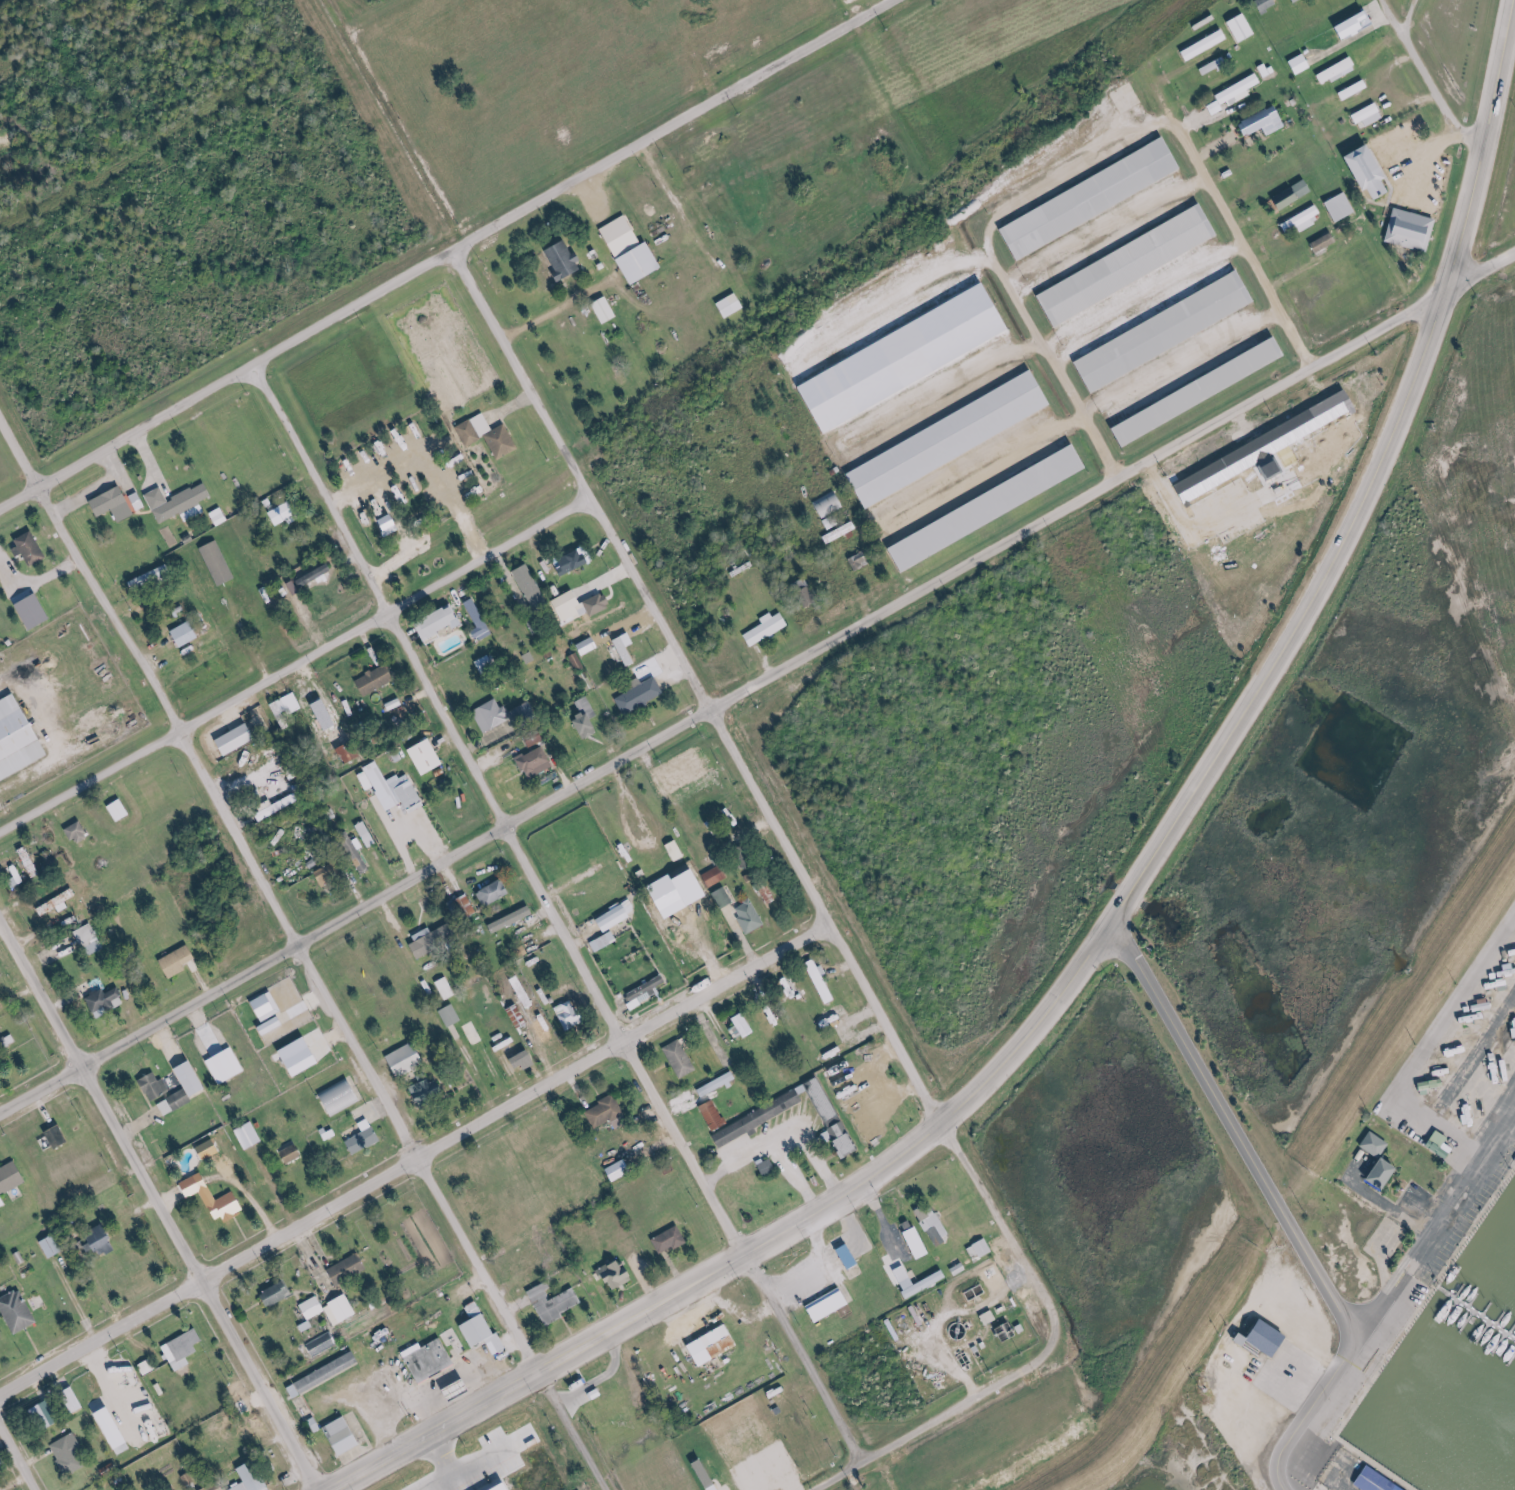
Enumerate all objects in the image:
building: (1295, 0)
building: (1265, 3)
building: (1354, 25)
building: (1240, 27)
building: (1205, 44)
building: (1300, 64)
building: (1212, 65)
building: (1335, 70)
road: (1431, 82)
building: (1239, 89)
building: (1352, 90)
building: (1365, 113)
building: (1263, 122)
road: (670, 125)
road: (1481, 144)
building: (1372, 171)
building: (1287, 198)
building: (1090, 199)
building: (1339, 207)
building: (1300, 219)
road: (1234, 224)
building: (1410, 230)
building: (1324, 242)
building: (631, 250)
building: (564, 261)
building: (1127, 265)
road: (1480, 271)
building: (730, 306)
building: (1164, 332)
road: (225, 379)
building: (487, 436)
railway: (612, 438)
building: (950, 439)
building: (827, 503)
building: (990, 507)
building: (282, 513)
building: (830, 522)
building: (389, 523)
building: (839, 532)
building: (33, 548)
building: (572, 561)
building: (859, 561)
road: (89, 572)
building: (532, 589)
building: (597, 604)
building: (37, 612)
building: (440, 624)
building: (765, 629)
building: (602, 655)
road: (294, 663)
building: (486, 665)
building: (375, 680)
building: (639, 696)
road: (724, 704)
building: (285, 707)
building: (326, 715)
building: (492, 715)
building: (19, 739)
building: (236, 739)
building: (347, 755)
building: (534, 762)
building: (696, 768)
building: (122, 810)
road: (769, 810)
building: (732, 819)
road: (1168, 830)
building: (675, 851)
building: (32, 862)
building: (715, 876)
building: (64, 900)
road: (551, 914)
building: (749, 917)
building: (89, 936)
building: (678, 938)
building: (436, 940)
building: (180, 961)
building: (820, 982)
building: (647, 988)
building: (448, 989)
building: (525, 991)
building: (108, 1001)
building: (270, 1006)
building: (453, 1016)
building: (571, 1016)
building: (840, 1044)
building: (305, 1057)
building: (680, 1058)
building: (410, 1059)
building: (528, 1060)
building: (229, 1067)
building: (196, 1080)
building: (158, 1087)
building: (428, 1093)
building: (344, 1096)
building: (713, 1099)
building: (178, 1102)
road: (393, 1109)
road: (41, 1110)
building: (759, 1118)
road: (1231, 1132)
building: (56, 1136)
building: (252, 1136)
building: (367, 1138)
building: (211, 1149)
building: (294, 1153)
road: (417, 1160)
building: (1367, 1161)
building: (619, 1169)
building: (12, 1178)
building: (215, 1198)
road: (161, 1202)
building: (0, 1210)
building: (923, 1213)
road: (1434, 1218)
building: (936, 1236)
building: (105, 1238)
building: (669, 1240)
building: (917, 1242)
building: (54, 1246)
building: (981, 1248)
building: (350, 1269)
building: (922, 1285)
building: (279, 1294)
building: (554, 1303)
building: (828, 1304)
building: (332, 1309)
building: (20, 1311)
pier: (1475, 1314)
building: (483, 1326)
building: (1254, 1335)
building: (323, 1344)
building: (713, 1344)
building: (184, 1349)
building: (430, 1360)
building: (148, 1367)
road: (533, 1370)
road: (1305, 1413)
building: (47, 1415)
road: (918, 1427)
building: (116, 1428)
building: (347, 1435)
building: (71, 1454)
road: (18, 1457)
road: (869, 1474)
building: (254, 1478)
building: (509, 1487)
building: (1390, 1488)

